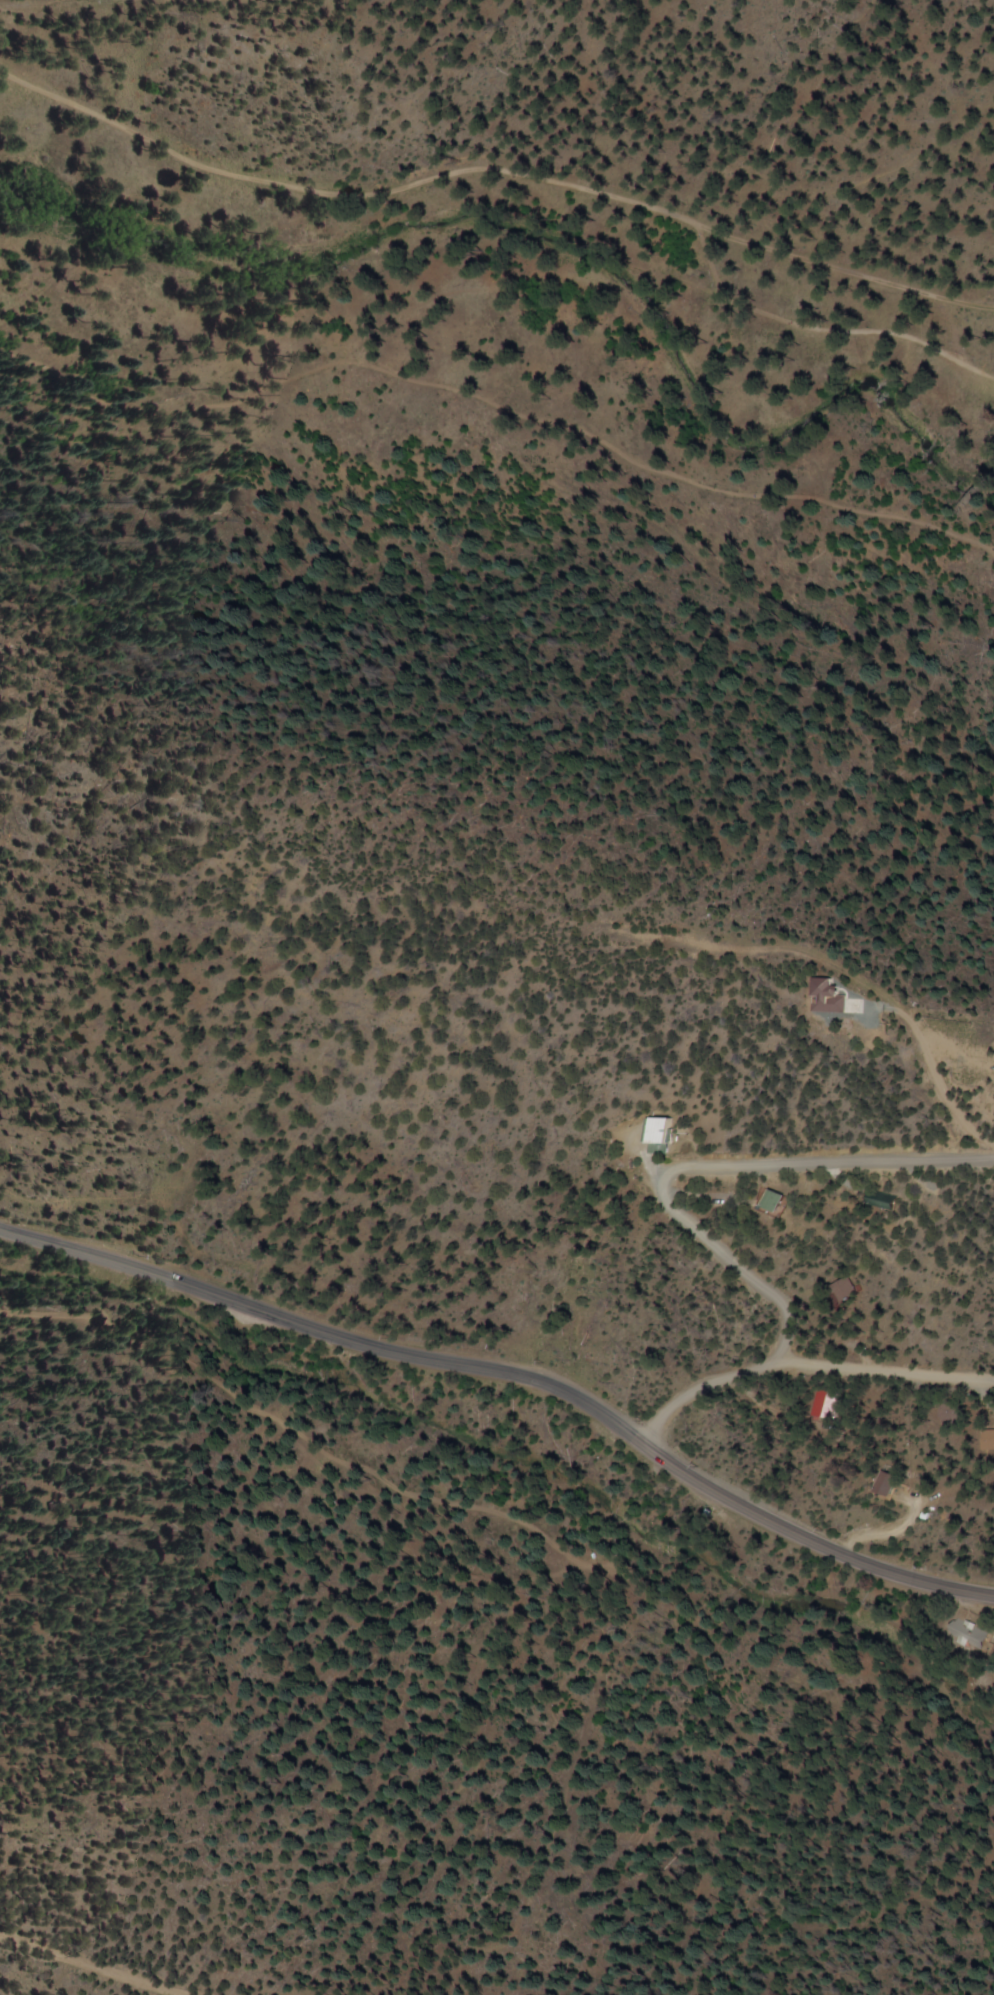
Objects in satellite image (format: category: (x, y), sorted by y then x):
road: (796, 948)
building: (659, 1133)
road: (718, 1169)
building: (778, 1200)
building: (882, 1204)
road: (890, 1375)
road: (513, 1378)
road: (705, 1384)
building: (829, 1405)
building: (992, 1441)
building: (891, 1483)
building: (976, 1639)
road: (94, 1962)

